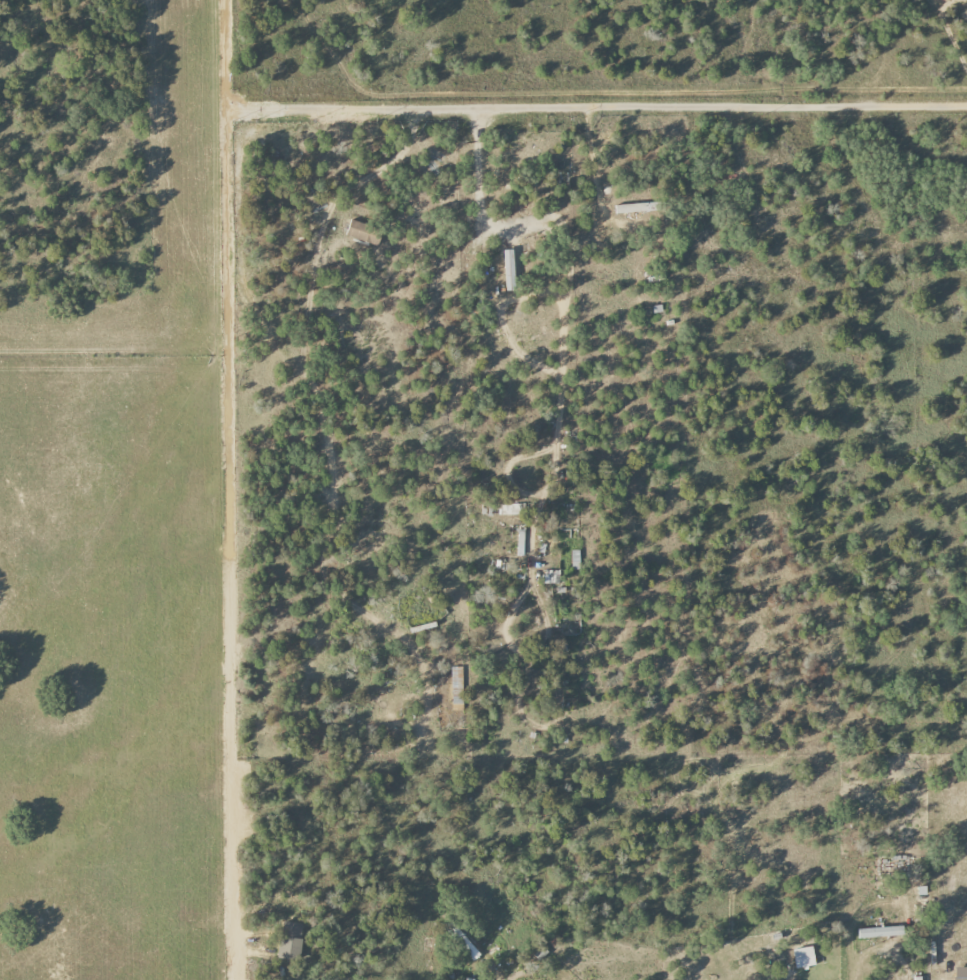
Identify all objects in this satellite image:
road: (615, 106)
building: (635, 208)
building: (361, 231)
building: (509, 270)
road: (561, 304)
building: (508, 509)
building: (575, 560)
building: (551, 577)
building: (456, 689)
building: (880, 932)
building: (290, 940)
building: (463, 942)
road: (878, 949)
building: (804, 957)
road: (236, 959)
road: (499, 978)
building: (960, 978)

